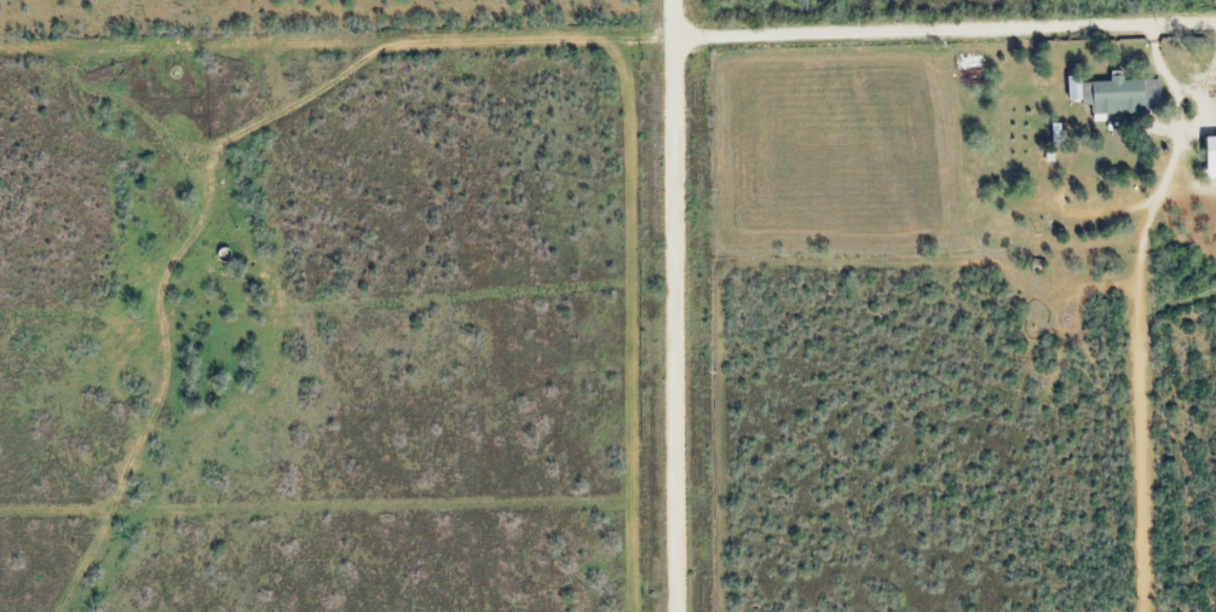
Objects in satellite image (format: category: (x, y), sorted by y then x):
road: (944, 28)
building: (1119, 93)
road: (674, 305)

